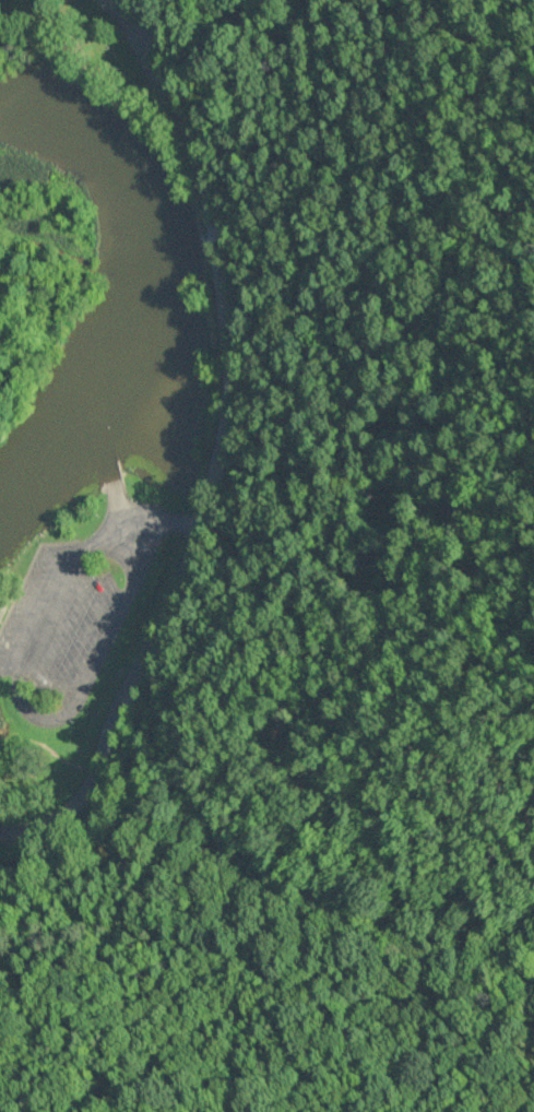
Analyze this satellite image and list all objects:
river: (143, 303)
road: (212, 440)
road: (180, 523)
parking lot: (79, 600)
road: (28, 707)

